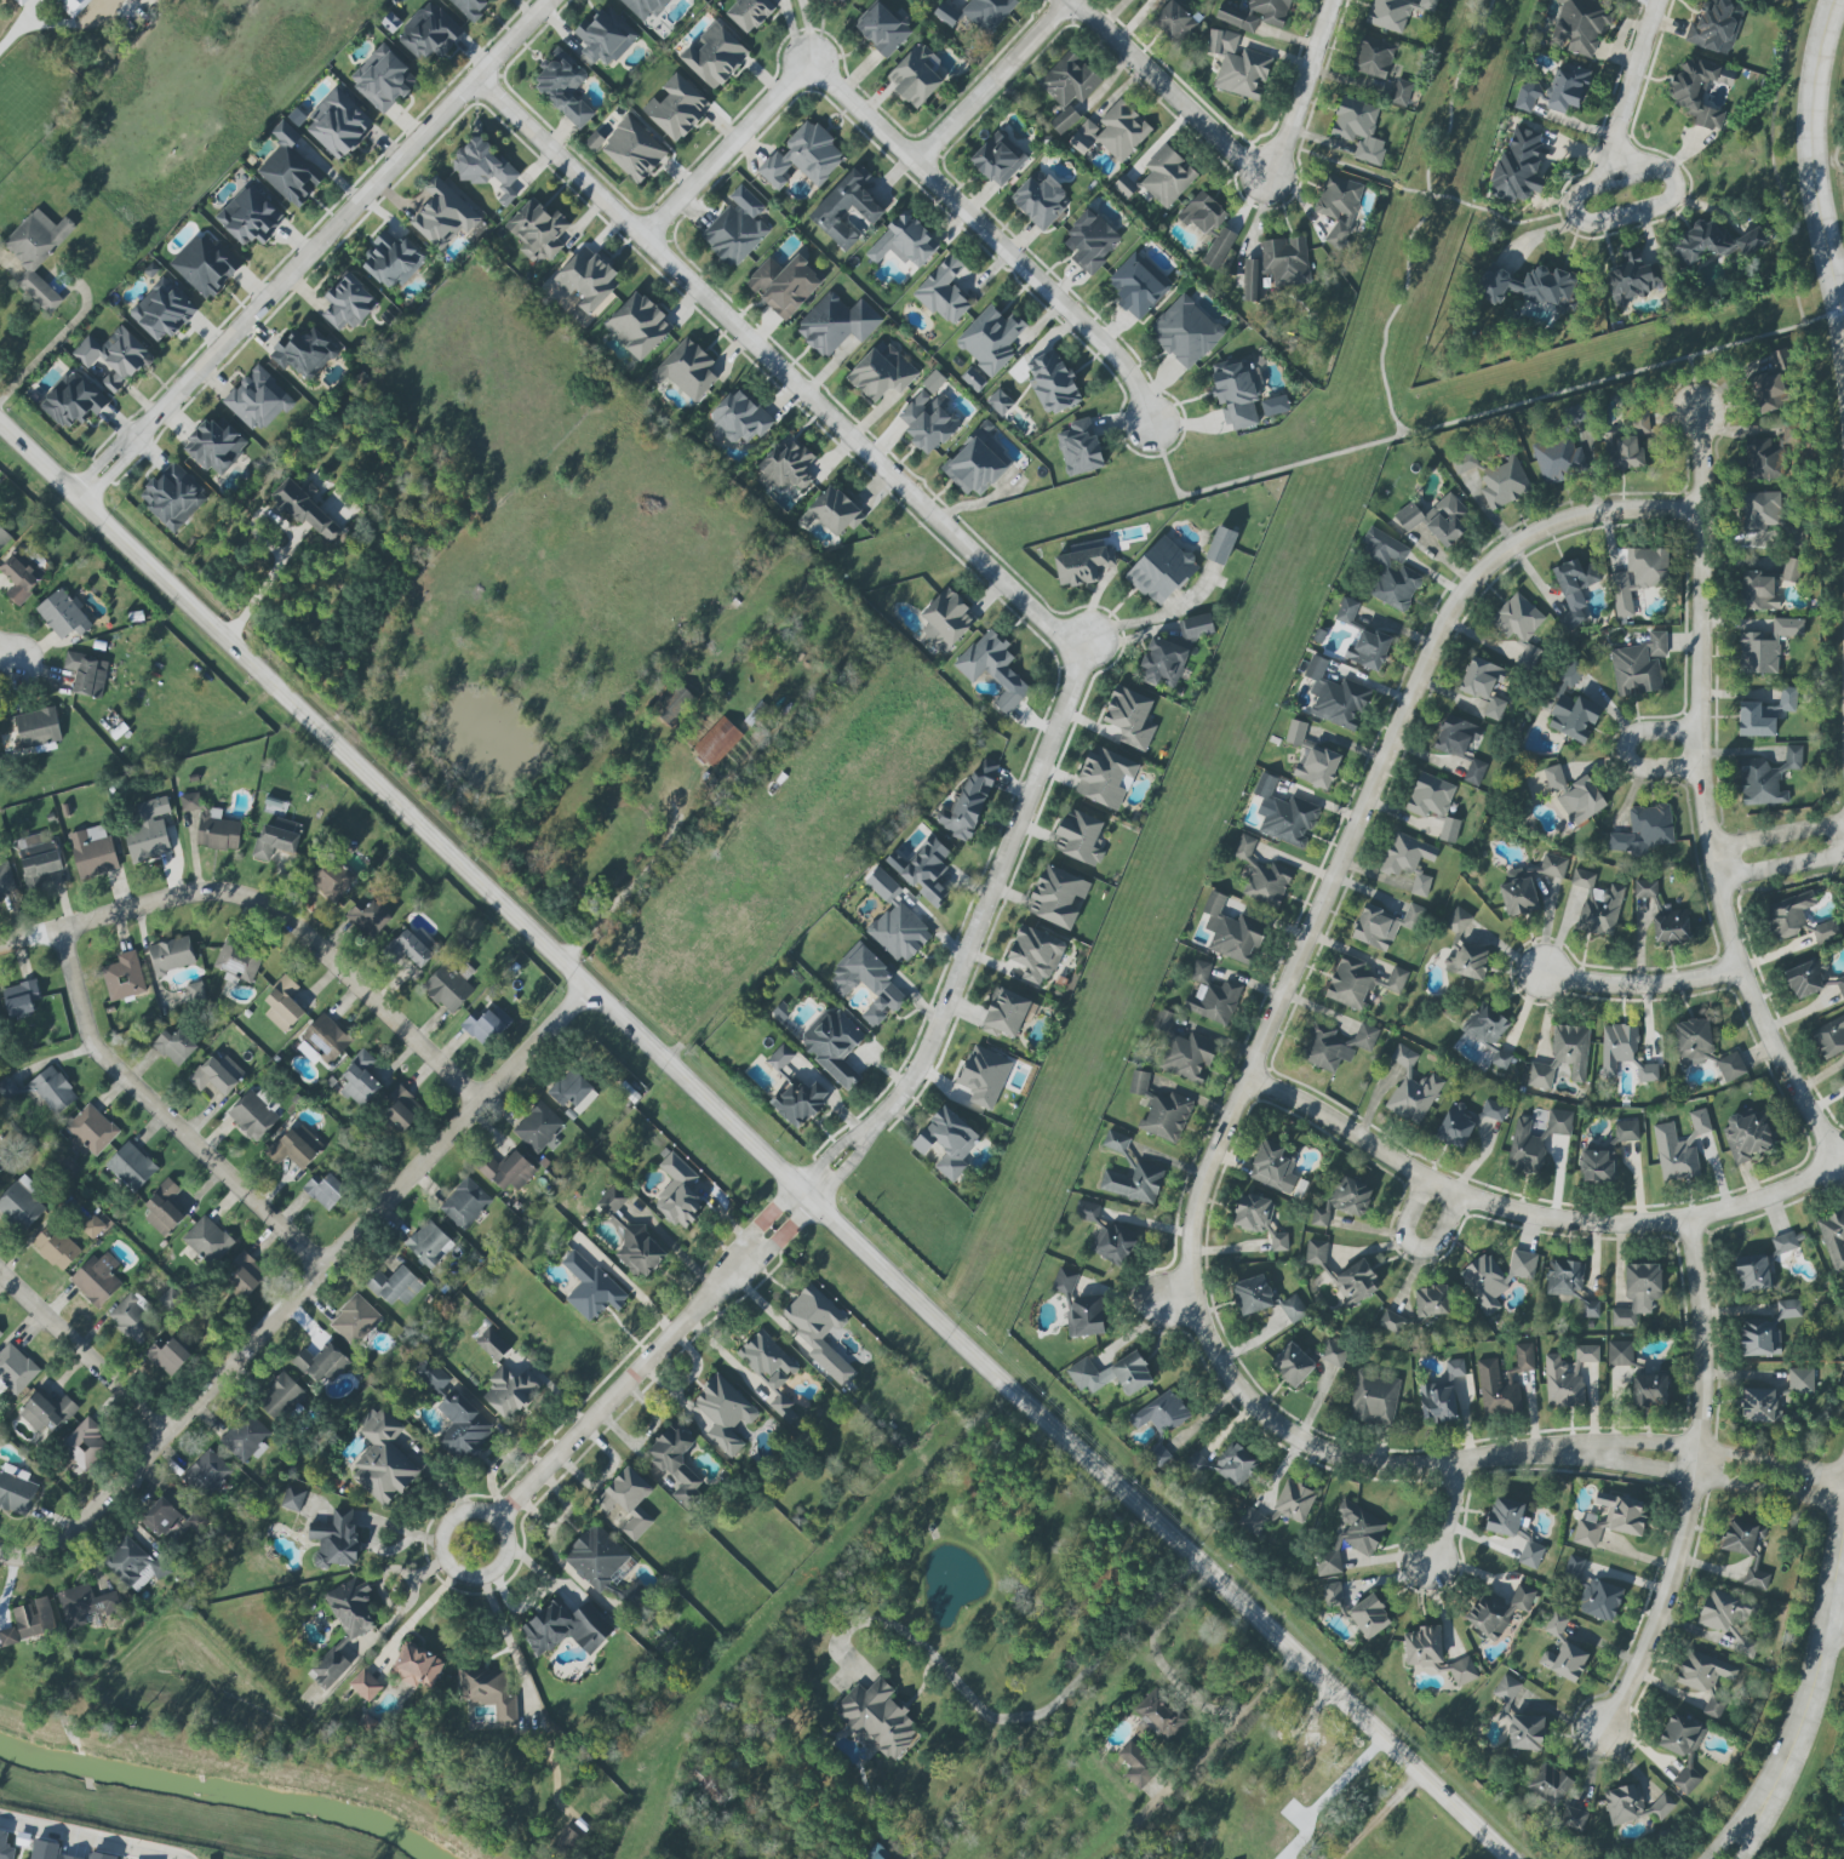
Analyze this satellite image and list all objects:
building: (838, 0)
building: (21, 1)
building: (71, 6)
building: (471, 7)
building: (645, 7)
building: (987, 12)
building: (749, 13)
building: (945, 13)
building: (1393, 13)
building: (1260, 15)
building: (1174, 22)
building: (1716, 25)
building: (1579, 27)
building: (882, 29)
building: (428, 32)
road: (10, 35)
building: (605, 38)
building: (714, 55)
building: (1373, 57)
building: (1237, 65)
building: (915, 75)
building: (383, 79)
building: (1069, 80)
road: (992, 84)
building: (563, 86)
road: (1172, 87)
road: (1627, 87)
road: (1302, 88)
building: (1554, 90)
building: (1699, 90)
building: (1401, 92)
building: (676, 107)
building: (1064, 120)
building: (338, 124)
building: (1358, 128)
building: (1112, 132)
road: (1838, 132)
building: (632, 149)
road: (726, 151)
building: (802, 156)
building: (997, 159)
road: (1811, 161)
road: (1769, 162)
building: (1518, 165)
building: (483, 167)
building: (288, 168)
building: (1159, 178)
road: (1424, 195)
building: (1040, 200)
building: (1338, 206)
building: (846, 208)
road: (1633, 212)
building: (1202, 213)
building: (442, 215)
road: (1422, 215)
building: (250, 216)
building: (735, 228)
building: (537, 230)
road: (991, 238)
building: (1090, 241)
building: (904, 242)
building: (1714, 244)
road: (309, 246)
building: (1219, 248)
building: (36, 254)
building: (393, 259)
building: (1285, 261)
building: (205, 264)
building: (1632, 276)
building: (588, 279)
building: (1249, 280)
building: (783, 285)
building: (1138, 285)
building: (1533, 287)
building: (943, 291)
building: (348, 303)
building: (162, 310)
building: (836, 324)
building: (637, 326)
building: (1185, 331)
building: (990, 339)
building: (304, 351)
building: (115, 358)
road: (774, 362)
road: (30, 365)
building: (686, 370)
building: (881, 372)
building: (1052, 382)
road: (1694, 384)
building: (1771, 384)
building: (1236, 393)
building: (71, 400)
building: (257, 400)
building: (1000, 402)
building: (1275, 406)
road: (1473, 414)
building: (739, 418)
building: (927, 422)
building: (1640, 423)
building: (214, 446)
building: (1080, 447)
building: (1623, 452)
building: (1558, 459)
building: (1762, 459)
road: (1700, 463)
building: (973, 467)
building: (1496, 480)
building: (172, 497)
building: (305, 511)
building: (835, 511)
building: (1759, 511)
building: (1436, 519)
building: (4, 538)
building: (1221, 545)
building: (1082, 565)
building: (1388, 570)
building: (1791, 570)
building: (1161, 571)
building: (1638, 577)
building: (18, 579)
road: (259, 585)
building: (1573, 589)
building: (1758, 591)
building: (1347, 610)
building: (63, 614)
building: (134, 616)
building: (1519, 625)
building: (1196, 627)
building: (1764, 647)
building: (1368, 650)
road: (7, 656)
building: (1162, 663)
building: (1638, 665)
building: (992, 669)
building: (87, 674)
building: (1483, 685)
building: (1335, 697)
building: (1781, 703)
building: (672, 704)
building: (1570, 707)
road: (1402, 714)
building: (1129, 717)
building: (1753, 721)
building: (38, 730)
building: (1455, 736)
building: (717, 742)
road: (1628, 751)
building: (1311, 757)
building: (1474, 772)
building: (1105, 778)
building: (1766, 778)
building: (1430, 795)
building: (1574, 795)
building: (969, 800)
building: (1284, 814)
building: (212, 825)
building: (1645, 829)
building: (1449, 830)
building: (148, 831)
road: (1776, 834)
building: (1080, 837)
building: (276, 839)
road: (1710, 851)
building: (92, 852)
building: (38, 858)
building: (1409, 860)
building: (1553, 865)
road: (1780, 868)
building: (923, 869)
building: (1261, 875)
building: (6, 880)
building: (332, 880)
building: (1517, 892)
building: (1056, 897)
building: (1597, 904)
road: (268, 910)
building: (1788, 914)
building: (1663, 915)
building: (368, 919)
building: (1458, 920)
building: (894, 921)
building: (1384, 925)
building: (1231, 931)
building: (1825, 931)
road: (967, 943)
building: (411, 948)
building: (1036, 954)
building: (171, 955)
building: (1467, 962)
building: (1199, 972)
building: (124, 977)
building: (1359, 982)
building: (866, 983)
road: (1642, 983)
building: (1840, 985)
building: (447, 988)
building: (195, 990)
building: (21, 999)
building: (1213, 1002)
building: (282, 1005)
building: (246, 1013)
building: (1004, 1013)
building: (1163, 1019)
building: (486, 1025)
building: (1484, 1025)
building: (1828, 1037)
building: (322, 1040)
building: (1693, 1040)
building: (832, 1045)
building: (174, 1046)
building: (1335, 1046)
building: (1616, 1047)
building: (1570, 1049)
building: (780, 1057)
building: (1189, 1057)
building: (1500, 1059)
building: (1730, 1066)
building: (1647, 1072)
building: (217, 1075)
building: (984, 1076)
building: (1539, 1076)
building: (359, 1080)
building: (1411, 1088)
building: (51, 1091)
building: (573, 1092)
building: (800, 1102)
building: (400, 1109)
building: (1161, 1110)
building: (1493, 1110)
building: (252, 1114)
road: (156, 1116)
building: (1559, 1122)
building: (1455, 1126)
building: (537, 1127)
building: (91, 1129)
building: (1626, 1131)
building: (1746, 1136)
road: (748, 1140)
building: (946, 1142)
building: (296, 1146)
building: (1524, 1146)
building: (1, 1162)
building: (1596, 1166)
building: (131, 1167)
building: (1273, 1167)
building: (506, 1171)
building: (325, 1191)
building: (677, 1192)
building: (611, 1200)
building: (1344, 1200)
building: (22, 1203)
building: (464, 1203)
building: (164, 1208)
building: (1086, 1211)
road: (1529, 1213)
building: (1259, 1219)
building: (92, 1226)
building: (1833, 1239)
building: (207, 1240)
building: (429, 1243)
building: (1112, 1243)
building: (1782, 1243)
road: (1420, 1246)
building: (56, 1247)
building: (638, 1249)
building: (1751, 1272)
building: (245, 1274)
building: (1495, 1277)
building: (96, 1279)
building: (1065, 1279)
road: (299, 1286)
building: (395, 1286)
building: (1570, 1286)
building: (590, 1288)
building: (1638, 1293)
building: (1252, 1294)
building: (168, 1299)
building: (1431, 1300)
building: (1293, 1309)
building: (132, 1316)
building: (1084, 1317)
building: (355, 1321)
building: (1396, 1325)
building: (818, 1331)
building: (1766, 1331)
building: (0, 1333)
building: (492, 1344)
building: (1333, 1354)
building: (1620, 1354)
road: (81, 1355)
building: (167, 1356)
road: (726, 1359)
building: (767, 1360)
building: (321, 1363)
building: (1292, 1365)
building: (1454, 1368)
building: (15, 1369)
road: (640, 1371)
building: (1110, 1374)
building: (435, 1377)
building: (1567, 1377)
building: (1800, 1380)
building: (1502, 1382)
building: (510, 1390)
building: (1649, 1390)
building: (280, 1397)
building: (1373, 1398)
building: (1437, 1402)
building: (1758, 1405)
building: (783, 1409)
road: (1259, 1409)
building: (46, 1412)
building: (723, 1413)
building: (1159, 1413)
building: (462, 1426)
building: (245, 1437)
building: (85, 1445)
road: (1725, 1451)
building: (1158, 1455)
building: (383, 1459)
building: (676, 1463)
building: (1226, 1465)
building: (206, 1475)
road: (1691, 1481)
road: (1720, 1482)
building: (16, 1491)
building: (293, 1499)
building: (628, 1502)
building: (1294, 1502)
road: (1449, 1516)
building: (1504, 1516)
building: (160, 1517)
building: (1611, 1518)
building: (1250, 1521)
road: (416, 1535)
building: (1350, 1538)
building: (334, 1540)
building: (1746, 1549)
building: (1530, 1555)
building: (595, 1557)
building: (136, 1565)
building: (1573, 1568)
building: (1332, 1595)
road: (429, 1598)
building: (1599, 1600)
building: (86, 1605)
building: (351, 1607)
building: (1497, 1609)
building: (1369, 1617)
building: (1728, 1618)
building: (29, 1621)
road: (1842, 1621)
building: (1556, 1624)
road: (498, 1625)
building: (566, 1628)
building: (1422, 1647)
building: (1564, 1661)
building: (416, 1666)
building: (330, 1669)
building: (1462, 1671)
building: (1707, 1680)
building: (365, 1684)
building: (1505, 1688)
building: (488, 1693)
building: (1159, 1715)
road: (1000, 1716)
building: (877, 1717)
road: (1231, 1722)
building: (1525, 1732)
road: (1793, 1739)
building: (1682, 1746)
building: (1136, 1764)
road: (1302, 1775)
building: (1548, 1784)
building: (1622, 1803)
building: (1661, 1807)
road: (1374, 1819)
building: (1573, 1819)
building: (566, 1838)
road: (78, 1841)
building: (5, 1847)
building: (47, 1851)
building: (102, 1855)
building: (876, 1857)

